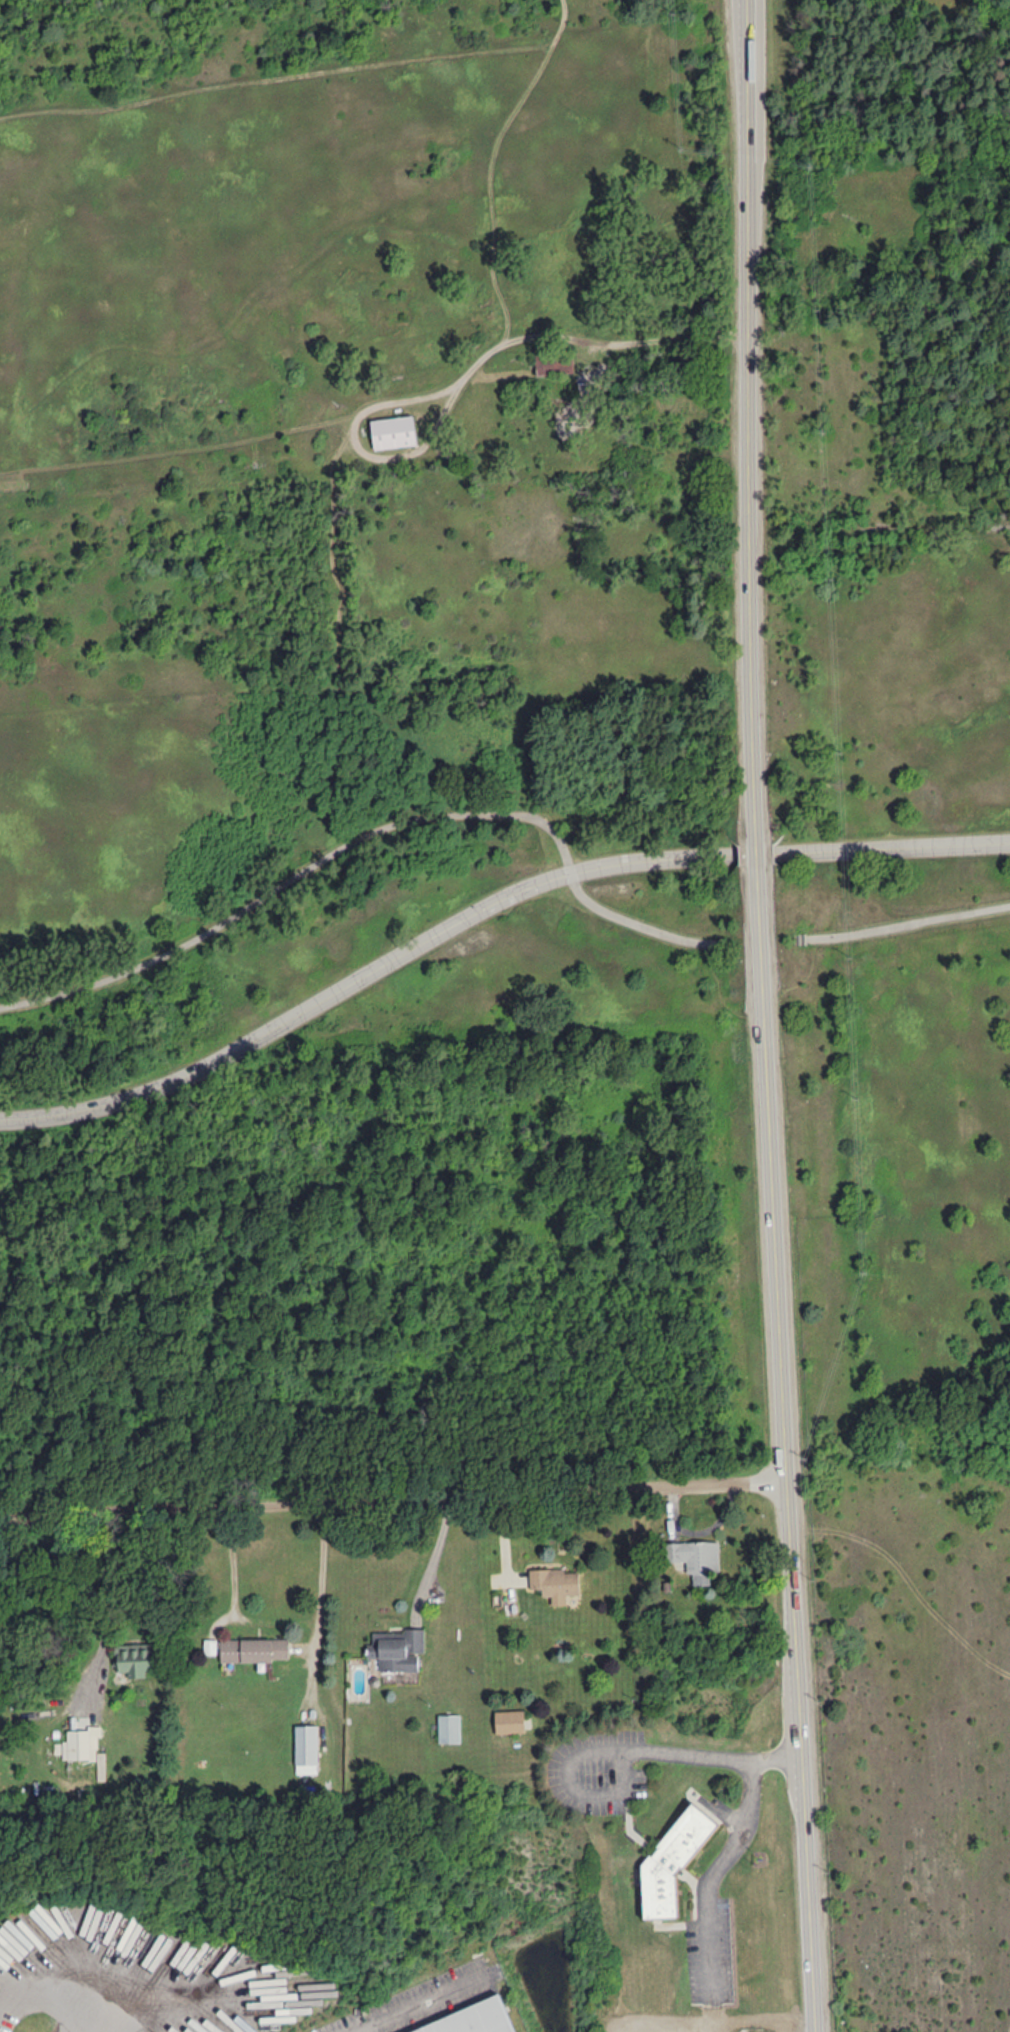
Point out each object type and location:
road: (275, 77)
road: (491, 164)
building: (554, 362)
road: (469, 373)
road: (503, 373)
road: (750, 420)
building: (394, 429)
road: (179, 450)
road: (332, 552)
park: (530, 807)
road: (368, 831)
road: (759, 853)
road: (484, 905)
road: (908, 924)
road: (762, 941)
road: (803, 978)
road: (719, 992)
road: (785, 1449)
road: (393, 1497)
road: (435, 1552)
building: (696, 1557)
road: (116, 1567)
road: (234, 1574)
road: (321, 1575)
road: (908, 1580)
building: (555, 1582)
building: (210, 1645)
building: (397, 1648)
building: (254, 1649)
building: (135, 1659)
building: (509, 1720)
building: (449, 1727)
building: (85, 1747)
building: (306, 1748)
road: (625, 1748)
building: (672, 1860)
road: (715, 1873)
road: (13, 1976)
road: (11, 1998)
road: (422, 2000)
road: (57, 2001)
building: (477, 2020)
road: (1009, 2029)

